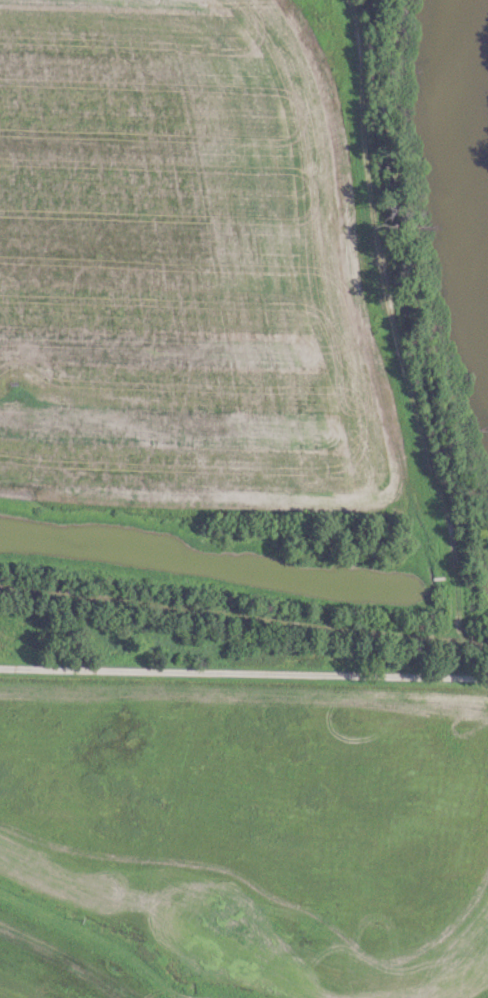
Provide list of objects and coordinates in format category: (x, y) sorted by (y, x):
road: (172, 669)
road: (415, 676)

